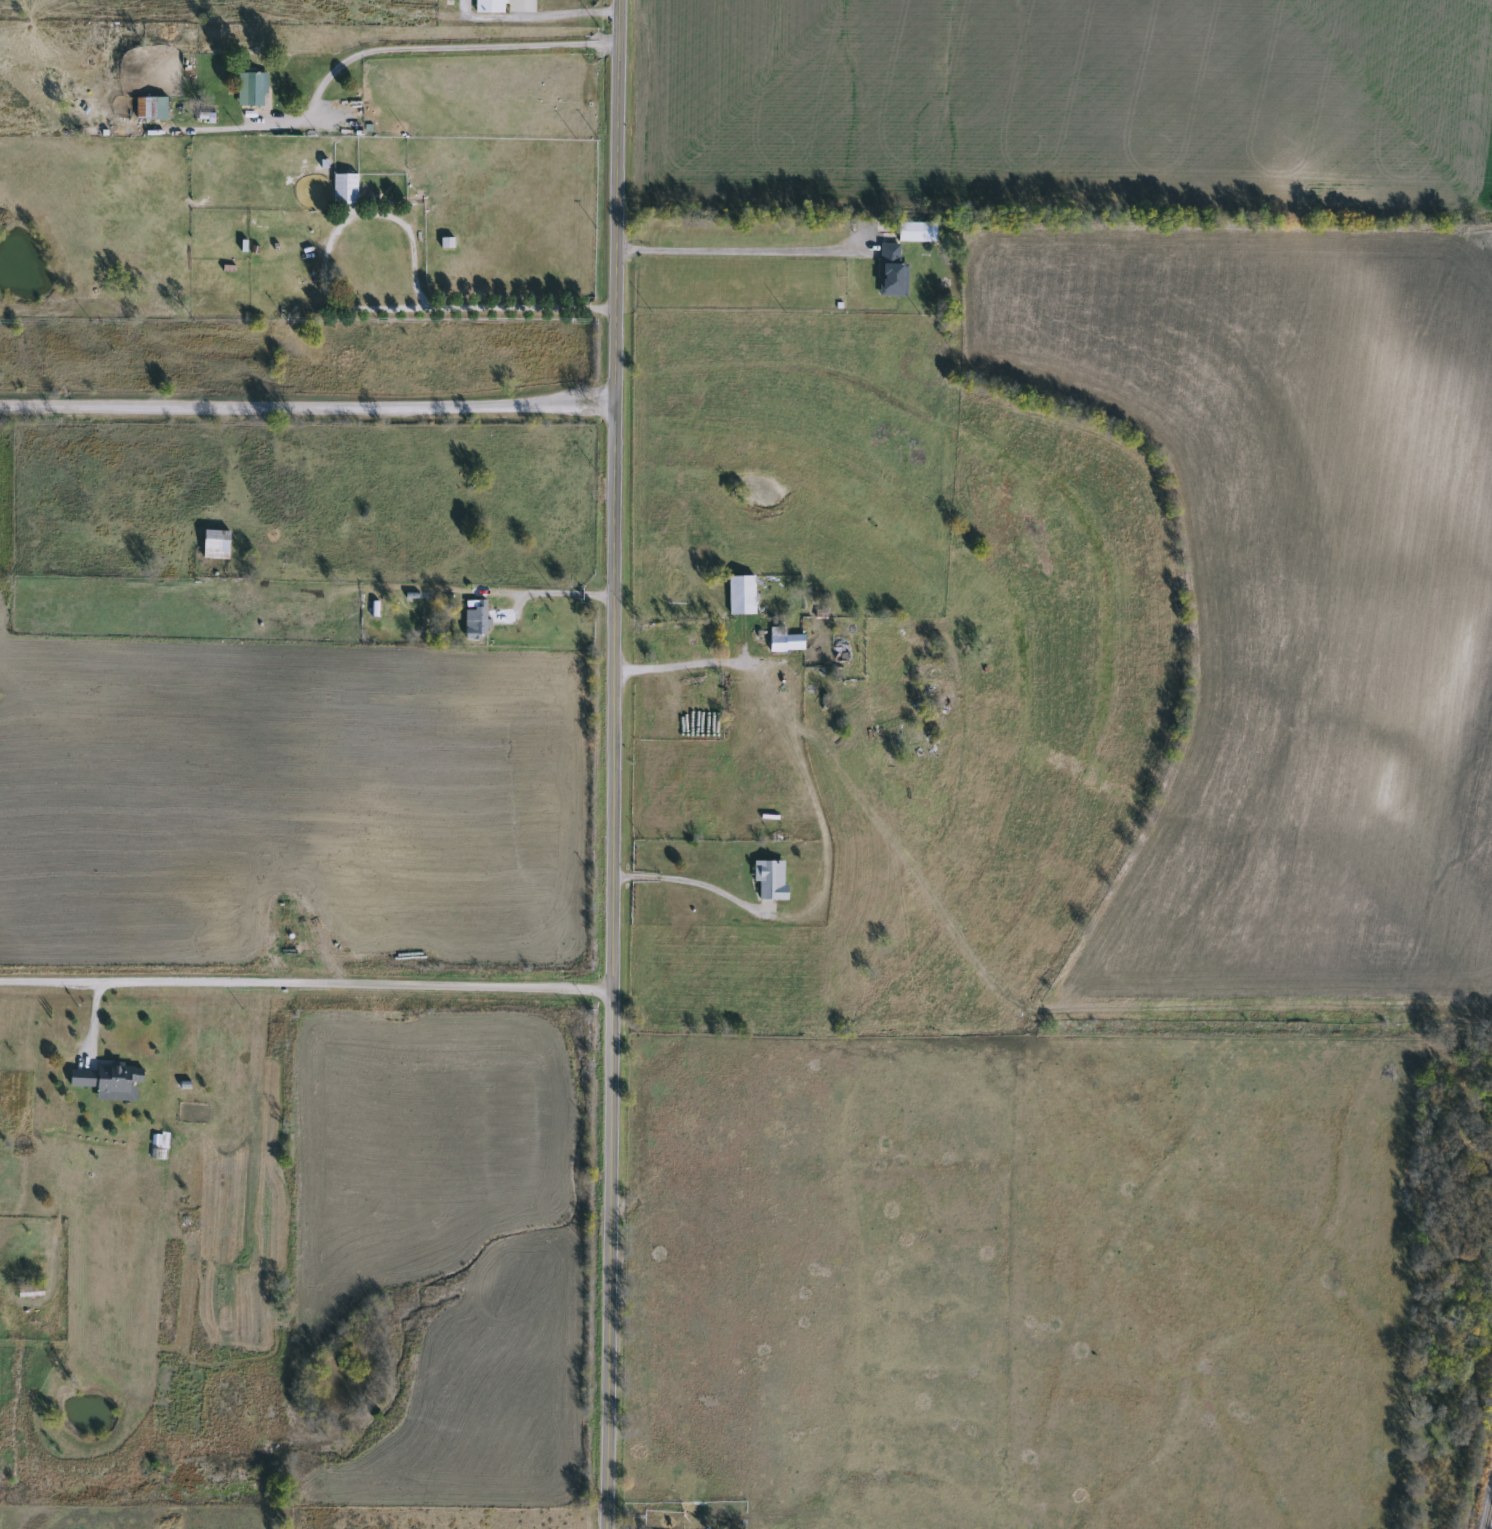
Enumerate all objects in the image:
building: (488, 6)
road: (566, 13)
road: (374, 51)
building: (250, 89)
crop: (1072, 102)
building: (150, 108)
building: (344, 188)
road: (732, 251)
building: (891, 271)
road: (348, 308)
road: (306, 412)
building: (214, 544)
road: (556, 593)
building: (740, 596)
building: (475, 619)
building: (784, 640)
road: (675, 667)
road: (610, 764)
building: (768, 879)
road: (688, 882)
road: (304, 990)
building: (80, 1078)
building: (117, 1082)
building: (29, 1290)
railway: (1488, 1515)

